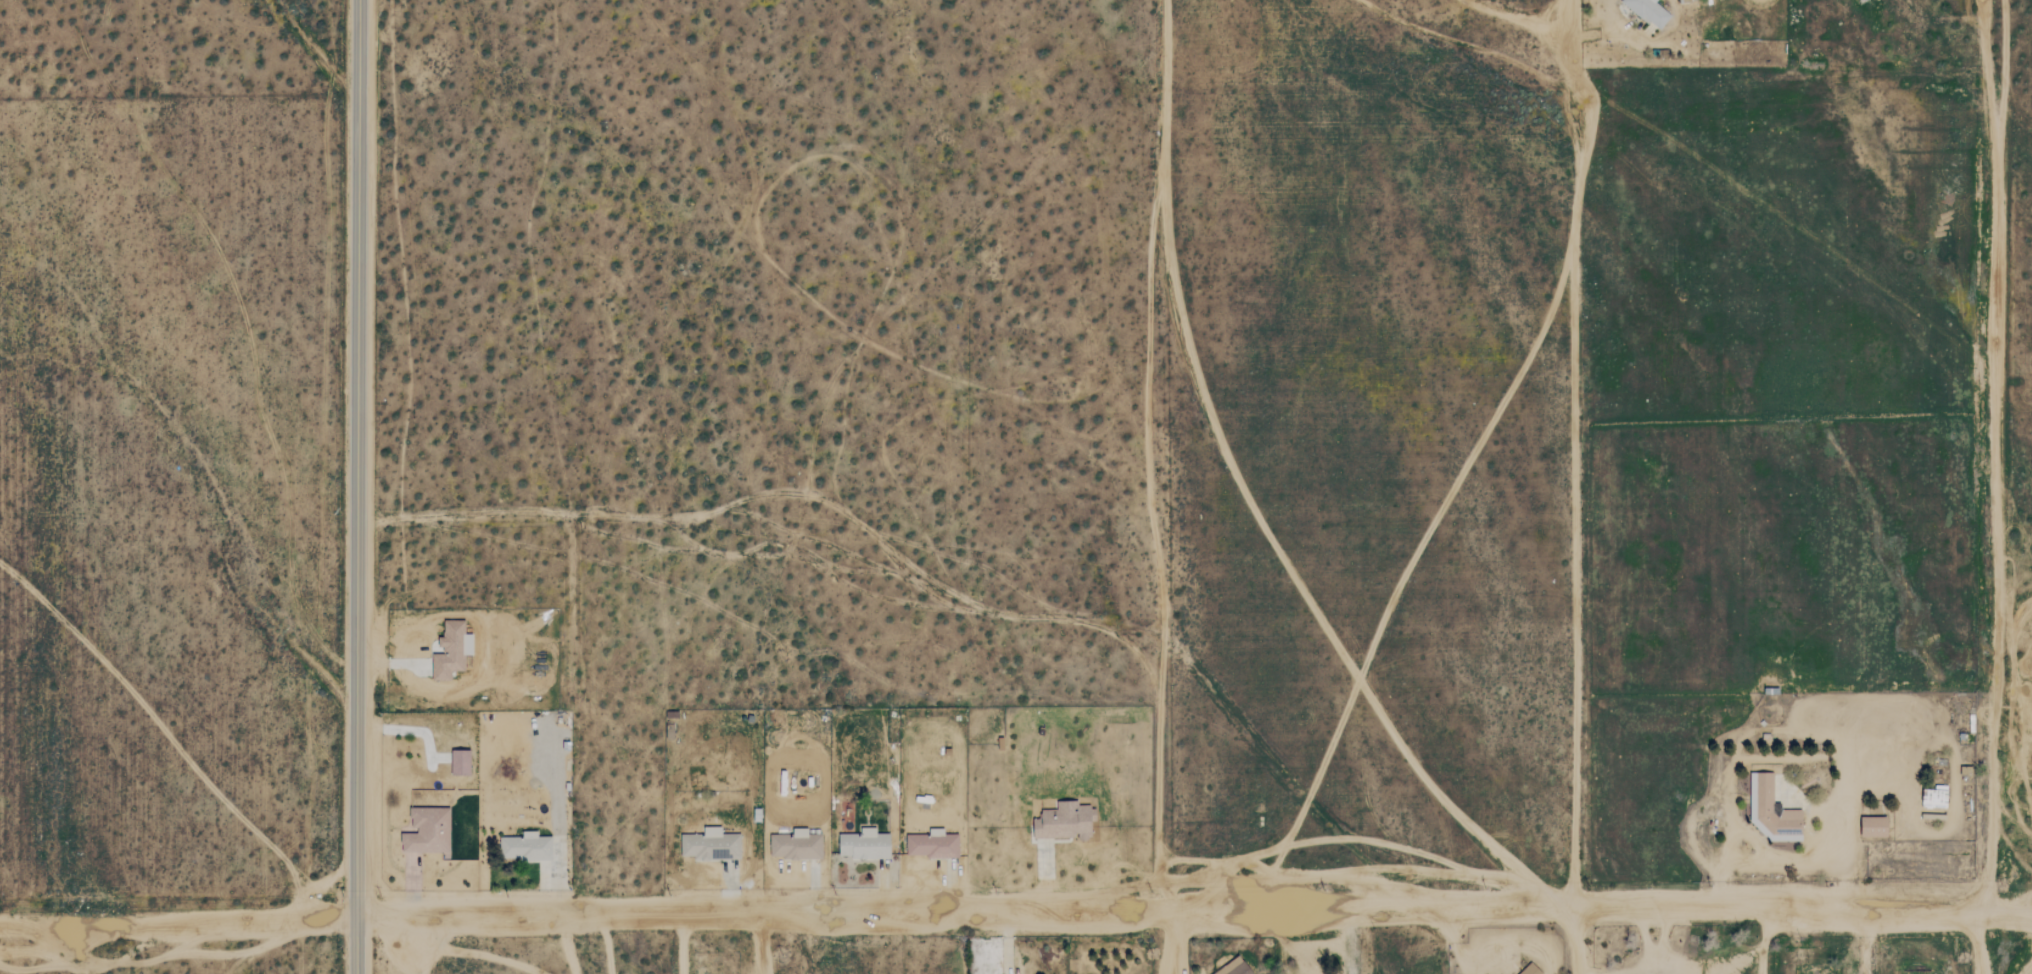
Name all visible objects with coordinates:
building: (1649, 12)
road: (1604, 33)
road: (1986, 447)
road: (357, 457)
road: (1574, 486)
building: (452, 650)
building: (460, 762)
building: (1934, 796)
building: (1772, 811)
building: (1065, 821)
building: (1874, 826)
building: (426, 830)
building: (864, 844)
building: (932, 844)
building: (710, 845)
building: (796, 845)
building: (525, 846)
road: (1194, 905)
road: (178, 916)
road: (1978, 933)
road: (1864, 936)
road: (1172, 939)
road: (1762, 940)
road: (1006, 941)
road: (605, 943)
road: (682, 943)
road: (763, 943)
road: (356, 944)
road: (411, 944)
building: (1234, 967)
building: (1530, 969)

